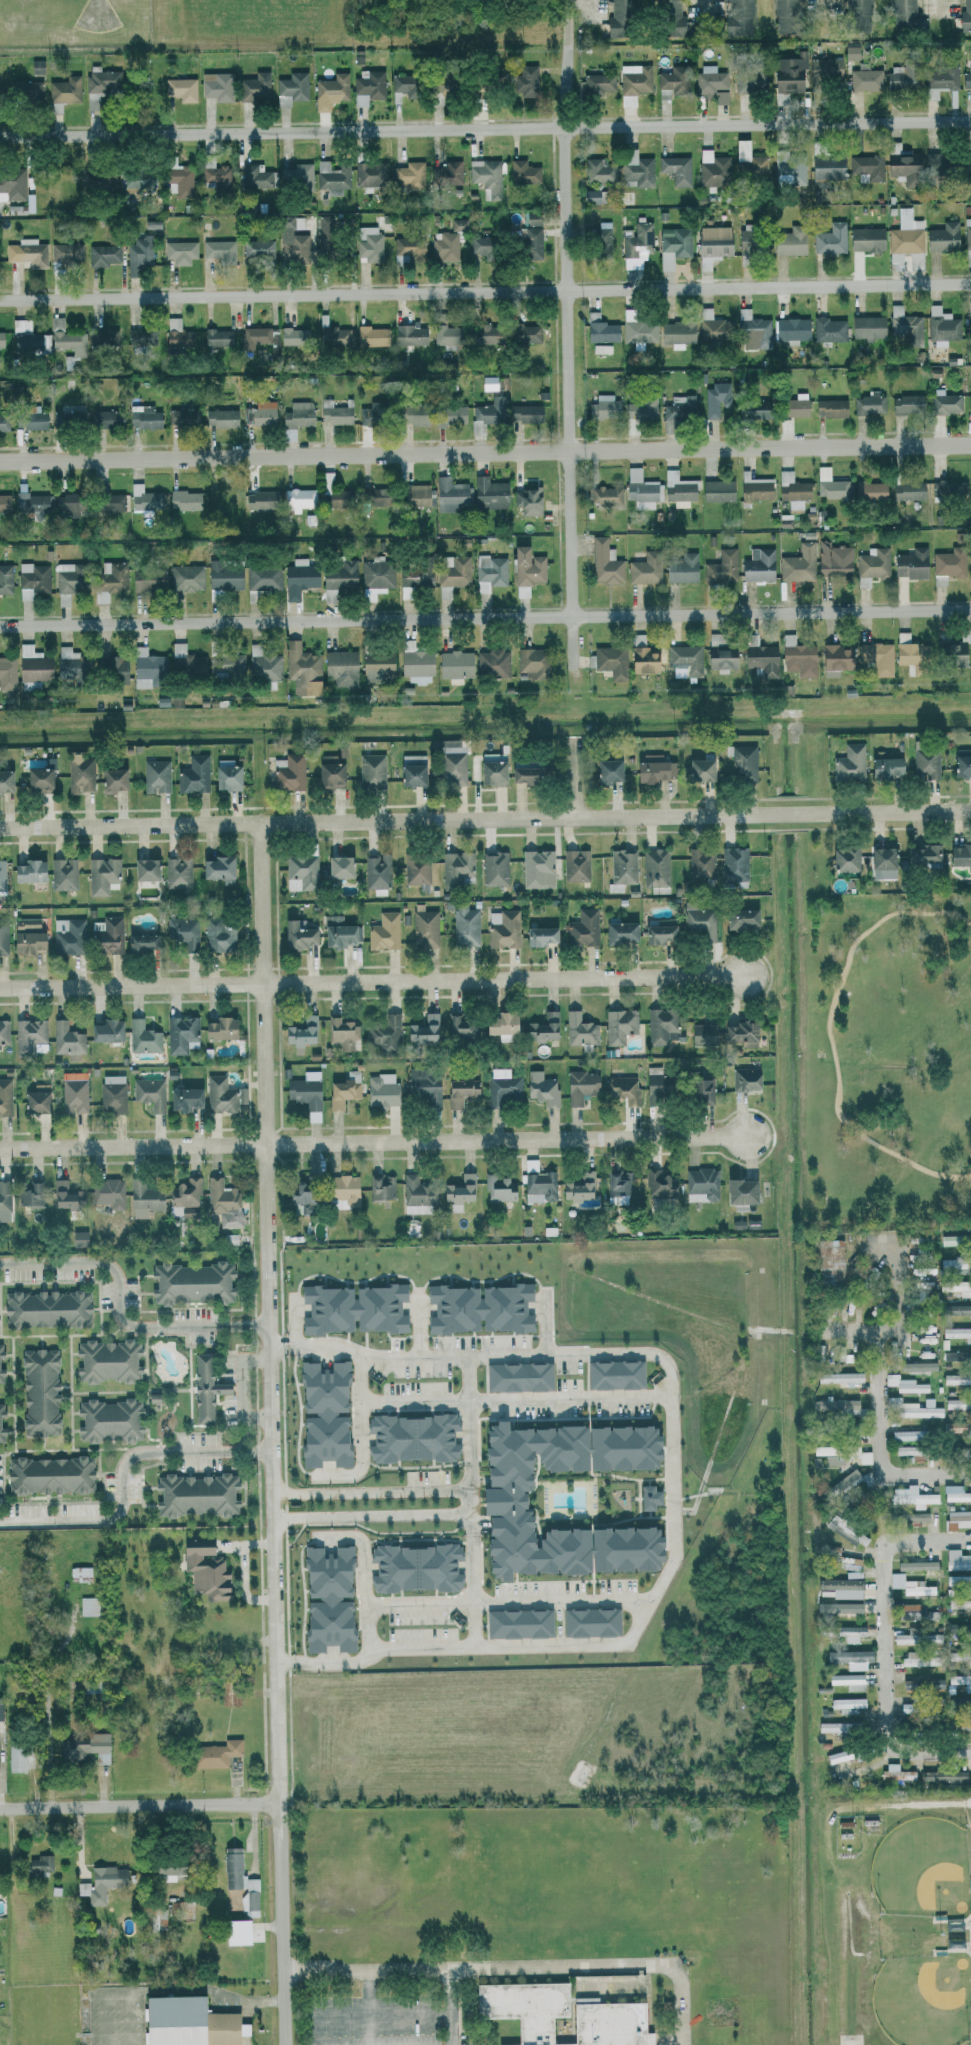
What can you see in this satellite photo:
road: (577, 0)
road: (706, 7)
road: (941, 7)
road: (822, 10)
building: (903, 14)
building: (785, 15)
building: (964, 15)
building: (616, 16)
building: (669, 17)
building: (737, 19)
road: (567, 22)
building: (35, 66)
building: (825, 69)
building: (788, 73)
building: (902, 77)
building: (967, 77)
building: (635, 79)
building: (865, 79)
building: (939, 79)
building: (525, 81)
building: (749, 81)
building: (672, 82)
building: (400, 83)
building: (595, 83)
building: (711, 83)
building: (99, 85)
building: (484, 85)
building: (217, 86)
building: (368, 86)
building: (254, 87)
building: (291, 88)
building: (180, 89)
building: (26, 90)
building: (330, 91)
building: (63, 92)
building: (0, 93)
building: (395, 97)
building: (627, 101)
road: (485, 127)
building: (748, 161)
building: (900, 161)
building: (933, 163)
building: (967, 164)
building: (827, 167)
building: (867, 167)
building: (676, 169)
building: (713, 169)
building: (597, 170)
building: (636, 170)
building: (789, 171)
building: (370, 172)
building: (523, 172)
building: (408, 175)
building: (446, 175)
building: (217, 176)
building: (177, 177)
building: (256, 177)
building: (296, 177)
building: (332, 177)
building: (487, 177)
building: (137, 179)
building: (102, 181)
building: (12, 184)
building: (590, 196)
building: (533, 218)
building: (462, 225)
building: (906, 233)
building: (967, 233)
building: (943, 237)
building: (599, 239)
building: (866, 239)
building: (638, 240)
building: (830, 240)
building: (790, 241)
building: (329, 242)
building: (528, 242)
building: (751, 242)
building: (291, 243)
building: (368, 243)
building: (481, 244)
building: (408, 245)
building: (673, 245)
building: (712, 245)
building: (444, 247)
building: (257, 249)
building: (30, 252)
building: (66, 252)
building: (180, 252)
building: (218, 252)
building: (139, 253)
building: (103, 255)
building: (400, 258)
road: (485, 290)
building: (904, 321)
building: (942, 323)
building: (712, 326)
building: (754, 328)
building: (600, 329)
building: (791, 329)
building: (828, 329)
building: (867, 329)
building: (639, 331)
building: (524, 333)
building: (677, 333)
building: (408, 334)
building: (446, 334)
building: (177, 335)
building: (484, 335)
building: (290, 336)
building: (332, 336)
building: (371, 336)
building: (145, 337)
building: (218, 337)
building: (255, 337)
building: (105, 338)
building: (1, 339)
building: (25, 339)
building: (67, 339)
building: (602, 349)
road: (568, 360)
building: (486, 382)
building: (716, 400)
building: (945, 402)
building: (969, 402)
building: (869, 403)
building: (906, 404)
building: (794, 405)
building: (640, 406)
building: (679, 406)
building: (603, 407)
building: (830, 407)
building: (752, 408)
building: (489, 410)
building: (335, 411)
building: (262, 413)
building: (411, 413)
building: (450, 413)
building: (525, 413)
building: (298, 415)
building: (31, 416)
building: (144, 416)
building: (65, 417)
building: (184, 417)
building: (221, 417)
building: (103, 418)
building: (3, 420)
road: (485, 451)
building: (970, 480)
building: (830, 484)
building: (755, 488)
building: (642, 489)
building: (678, 489)
building: (717, 490)
building: (869, 490)
building: (908, 490)
building: (946, 490)
building: (415, 494)
building: (450, 494)
building: (489, 494)
building: (370, 495)
building: (605, 495)
building: (791, 495)
building: (143, 497)
building: (298, 497)
building: (184, 499)
building: (259, 499)
building: (332, 500)
building: (109, 501)
building: (528, 501)
building: (4, 503)
building: (31, 504)
building: (68, 505)
building: (833, 558)
building: (604, 562)
building: (798, 563)
building: (910, 563)
building: (757, 564)
building: (948, 564)
building: (969, 564)
building: (871, 565)
building: (527, 566)
building: (721, 566)
building: (645, 568)
building: (681, 568)
building: (489, 572)
building: (451, 573)
building: (339, 574)
building: (224, 575)
building: (414, 575)
building: (186, 577)
building: (263, 577)
building: (298, 577)
building: (375, 577)
building: (5, 578)
building: (67, 578)
building: (147, 578)
building: (33, 579)
building: (109, 580)
building: (63, 599)
road: (485, 616)
building: (719, 653)
building: (953, 654)
building: (760, 656)
building: (797, 657)
building: (876, 657)
building: (912, 657)
building: (685, 658)
building: (834, 658)
building: (642, 659)
building: (186, 661)
building: (531, 661)
building: (608, 661)
building: (68, 662)
building: (227, 662)
building: (491, 662)
building: (415, 663)
building: (31, 664)
building: (263, 664)
building: (376, 665)
building: (454, 665)
building: (146, 667)
building: (339, 667)
building: (113, 668)
building: (302, 669)
building: (7, 671)
building: (175, 700)
building: (451, 762)
building: (925, 762)
building: (962, 762)
building: (743, 763)
building: (849, 763)
building: (884, 767)
building: (490, 768)
building: (410, 769)
building: (699, 769)
building: (371, 770)
building: (606, 770)
building: (649, 770)
building: (524, 771)
building: (288, 772)
building: (328, 772)
building: (193, 774)
building: (79, 775)
building: (155, 775)
building: (226, 775)
road: (575, 776)
building: (111, 779)
building: (5, 780)
building: (37, 780)
road: (485, 818)
building: (922, 853)
building: (959, 854)
building: (843, 858)
building: (701, 862)
building: (883, 862)
building: (575, 865)
building: (735, 865)
building: (338, 866)
building: (143, 868)
building: (217, 868)
building: (456, 868)
building: (494, 868)
building: (415, 869)
building: (621, 869)
building: (655, 869)
building: (537, 870)
building: (27, 871)
building: (300, 871)
building: (176, 872)
building: (377, 873)
building: (62, 874)
building: (2, 875)
building: (102, 875)
building: (740, 917)
building: (25, 922)
building: (699, 922)
building: (465, 925)
building: (424, 927)
building: (582, 928)
building: (501, 930)
building: (182, 931)
building: (384, 931)
building: (339, 932)
building: (619, 932)
building: (658, 932)
building: (218, 933)
building: (106, 935)
building: (296, 935)
building: (538, 935)
building: (3, 936)
building: (67, 936)
building: (140, 941)
building: (25, 942)
road: (963, 976)
road: (840, 979)
road: (372, 980)
building: (499, 1025)
building: (619, 1025)
building: (659, 1025)
building: (545, 1026)
building: (462, 1027)
building: (218, 1028)
building: (423, 1028)
building: (579, 1029)
building: (3, 1031)
building: (301, 1031)
building: (739, 1031)
building: (384, 1032)
building: (104, 1033)
building: (180, 1033)
building: (342, 1034)
building: (702, 1034)
building: (29, 1036)
building: (142, 1037)
building: (67, 1040)
park: (884, 1053)
building: (745, 1078)
building: (656, 1082)
building: (424, 1085)
building: (503, 1085)
building: (579, 1086)
building: (541, 1088)
building: (623, 1089)
building: (380, 1090)
building: (700, 1090)
building: (461, 1091)
building: (304, 1092)
building: (341, 1092)
building: (74, 1093)
building: (111, 1093)
building: (149, 1093)
building: (223, 1094)
building: (4, 1096)
building: (182, 1098)
building: (35, 1099)
road: (373, 1140)
road: (872, 1140)
road: (922, 1167)
building: (619, 1182)
building: (658, 1184)
building: (701, 1184)
building: (539, 1186)
building: (578, 1186)
building: (381, 1187)
building: (499, 1189)
building: (342, 1191)
building: (107, 1192)
building: (739, 1193)
building: (29, 1194)
building: (416, 1194)
building: (65, 1195)
building: (297, 1196)
building: (185, 1197)
building: (143, 1198)
building: (4, 1200)
building: (224, 1202)
building: (78, 1238)
building: (955, 1239)
road: (896, 1258)
building: (828, 1262)
building: (950, 1262)
building: (192, 1283)
building: (959, 1287)
building: (45, 1308)
building: (352, 1308)
building: (478, 1308)
building: (956, 1309)
road: (120, 1310)
road: (546, 1323)
road: (415, 1324)
building: (957, 1333)
building: (0, 1350)
building: (106, 1360)
building: (917, 1366)
building: (614, 1374)
building: (0, 1376)
building: (517, 1377)
building: (839, 1377)
building: (956, 1378)
building: (906, 1384)
road: (242, 1387)
building: (203, 1388)
building: (39, 1392)
road: (491, 1399)
building: (958, 1403)
building: (836, 1406)
building: (912, 1408)
building: (1, 1410)
building: (323, 1414)
building: (108, 1420)
road: (470, 1428)
building: (853, 1430)
road: (274, 1433)
building: (1, 1435)
building: (908, 1435)
building: (411, 1438)
road: (887, 1443)
building: (908, 1450)
road: (673, 1453)
building: (840, 1454)
road: (361, 1458)
road: (124, 1470)
building: (49, 1475)
building: (853, 1481)
road: (373, 1488)
building: (195, 1494)
building: (911, 1496)
building: (957, 1496)
building: (647, 1497)
building: (499, 1500)
road: (277, 1505)
road: (374, 1515)
building: (912, 1517)
building: (958, 1519)
building: (845, 1530)
building: (834, 1551)
building: (956, 1560)
building: (849, 1563)
building: (915, 1563)
building: (413, 1568)
building: (204, 1569)
building: (79, 1573)
building: (958, 1580)
building: (909, 1585)
building: (842, 1587)
road: (367, 1595)
building: (327, 1598)
road: (510, 1601)
building: (959, 1604)
building: (87, 1606)
building: (839, 1607)
building: (914, 1612)
building: (590, 1622)
building: (517, 1623)
building: (848, 1632)
building: (908, 1637)
building: (933, 1638)
road: (376, 1648)
road: (887, 1652)
building: (959, 1656)
building: (849, 1658)
building: (920, 1659)
building: (847, 1681)
building: (961, 1681)
building: (927, 1686)
building: (847, 1703)
building: (0, 1710)
building: (959, 1726)
building: (835, 1727)
building: (83, 1747)
building: (214, 1754)
building: (836, 1756)
building: (15, 1758)
building: (896, 1772)
building: (943, 1779)
road: (140, 1809)
building: (39, 1863)
building: (232, 1869)
building: (167, 1870)
road: (16, 1873)
building: (100, 1883)
building: (249, 1902)
building: (183, 1909)
building: (158, 1913)
road: (30, 1938)
building: (953, 1943)
road: (517, 1972)
road: (169, 1990)
road: (373, 2009)
road: (454, 2009)
building: (561, 2014)
road: (414, 2015)
road: (129, 2018)
building: (186, 2022)

